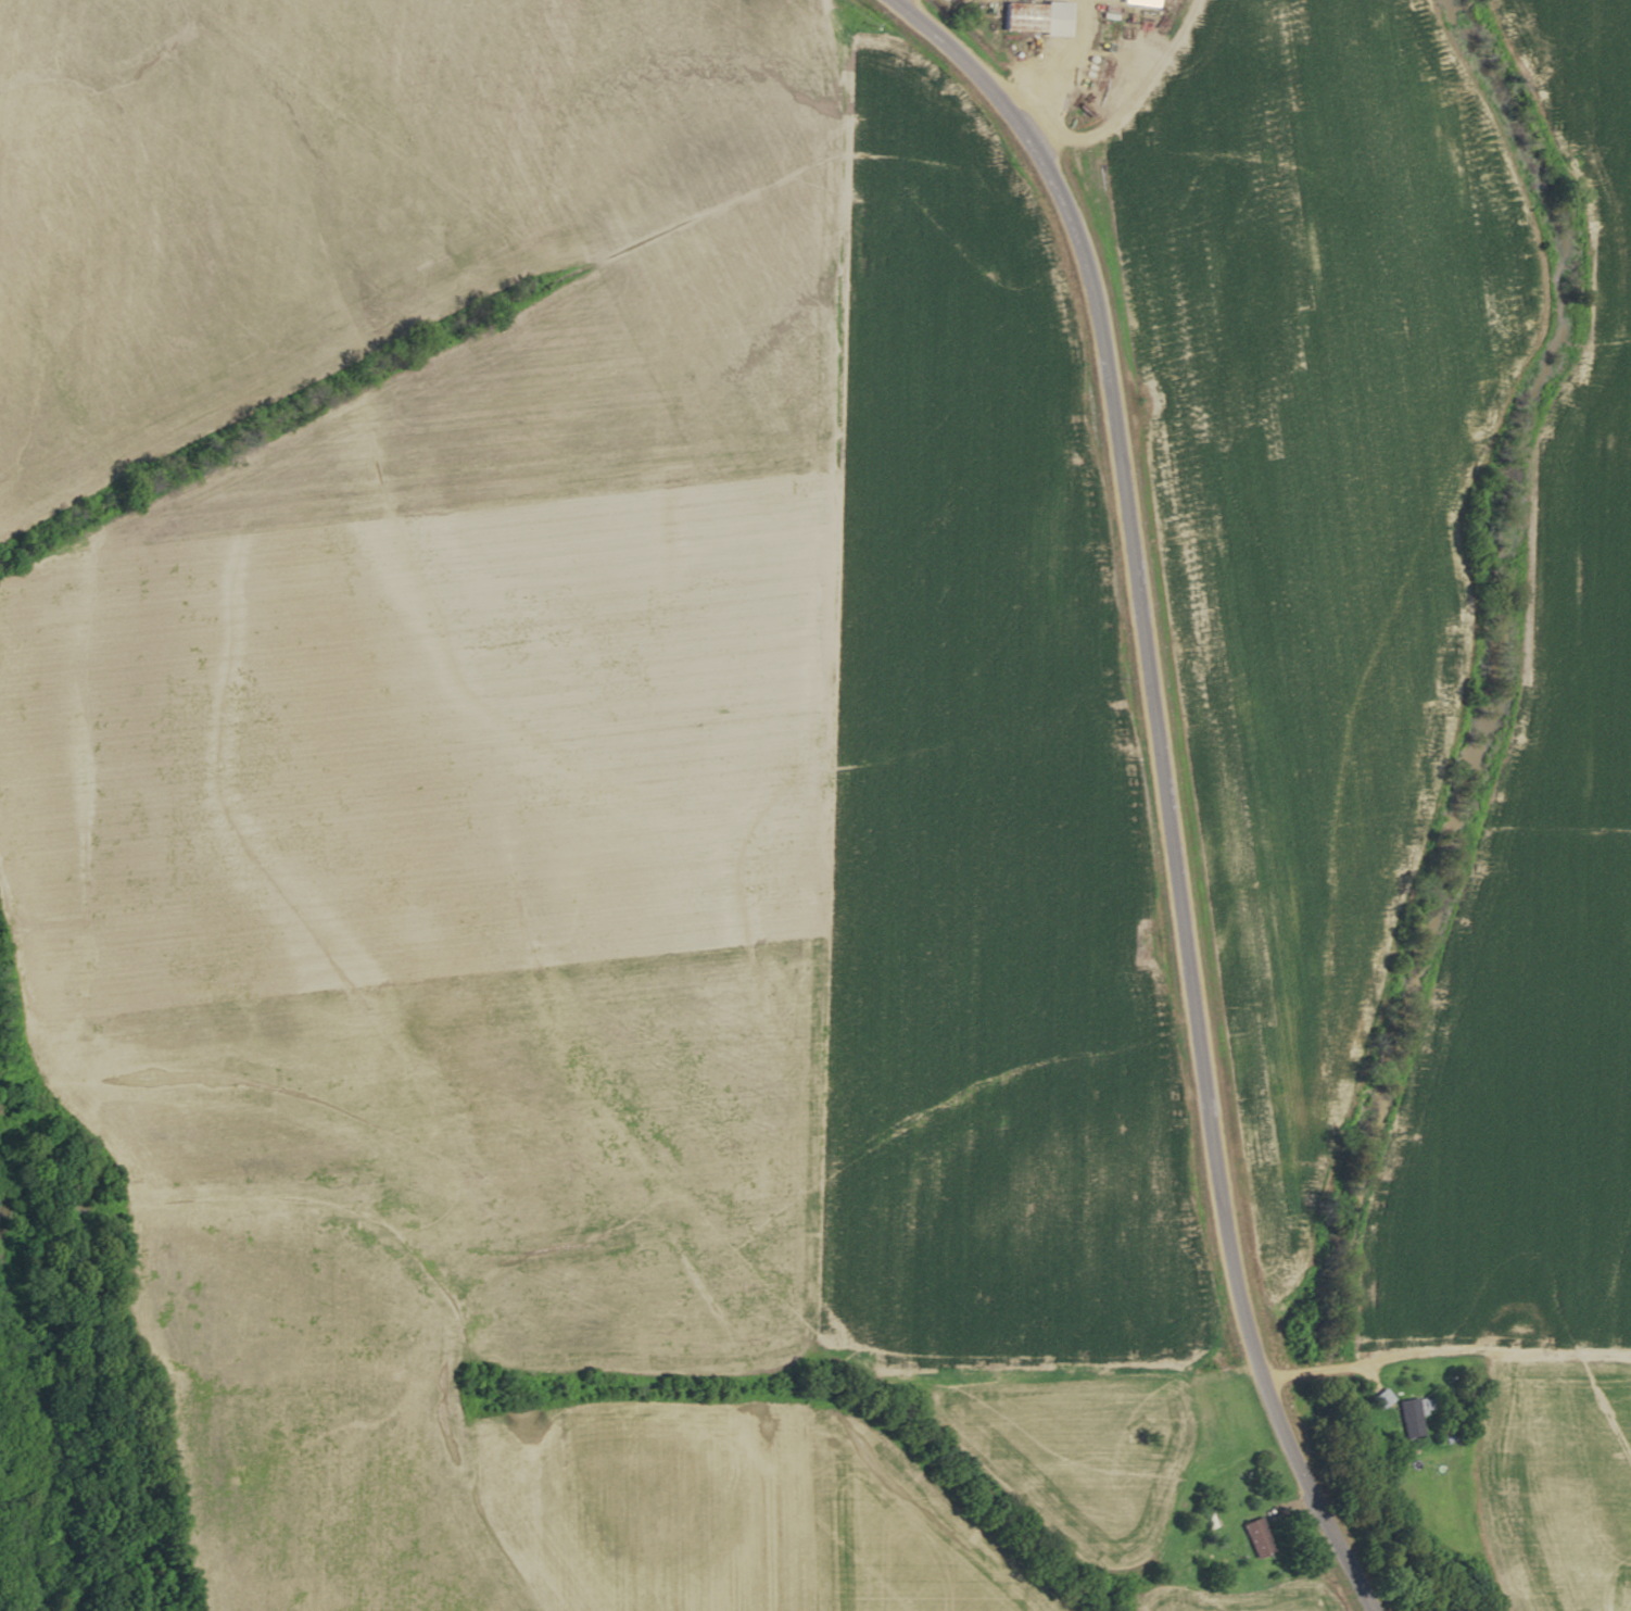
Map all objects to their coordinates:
building: (1033, 17)
road: (1138, 784)
building: (1451, 1434)
building: (1257, 1536)

